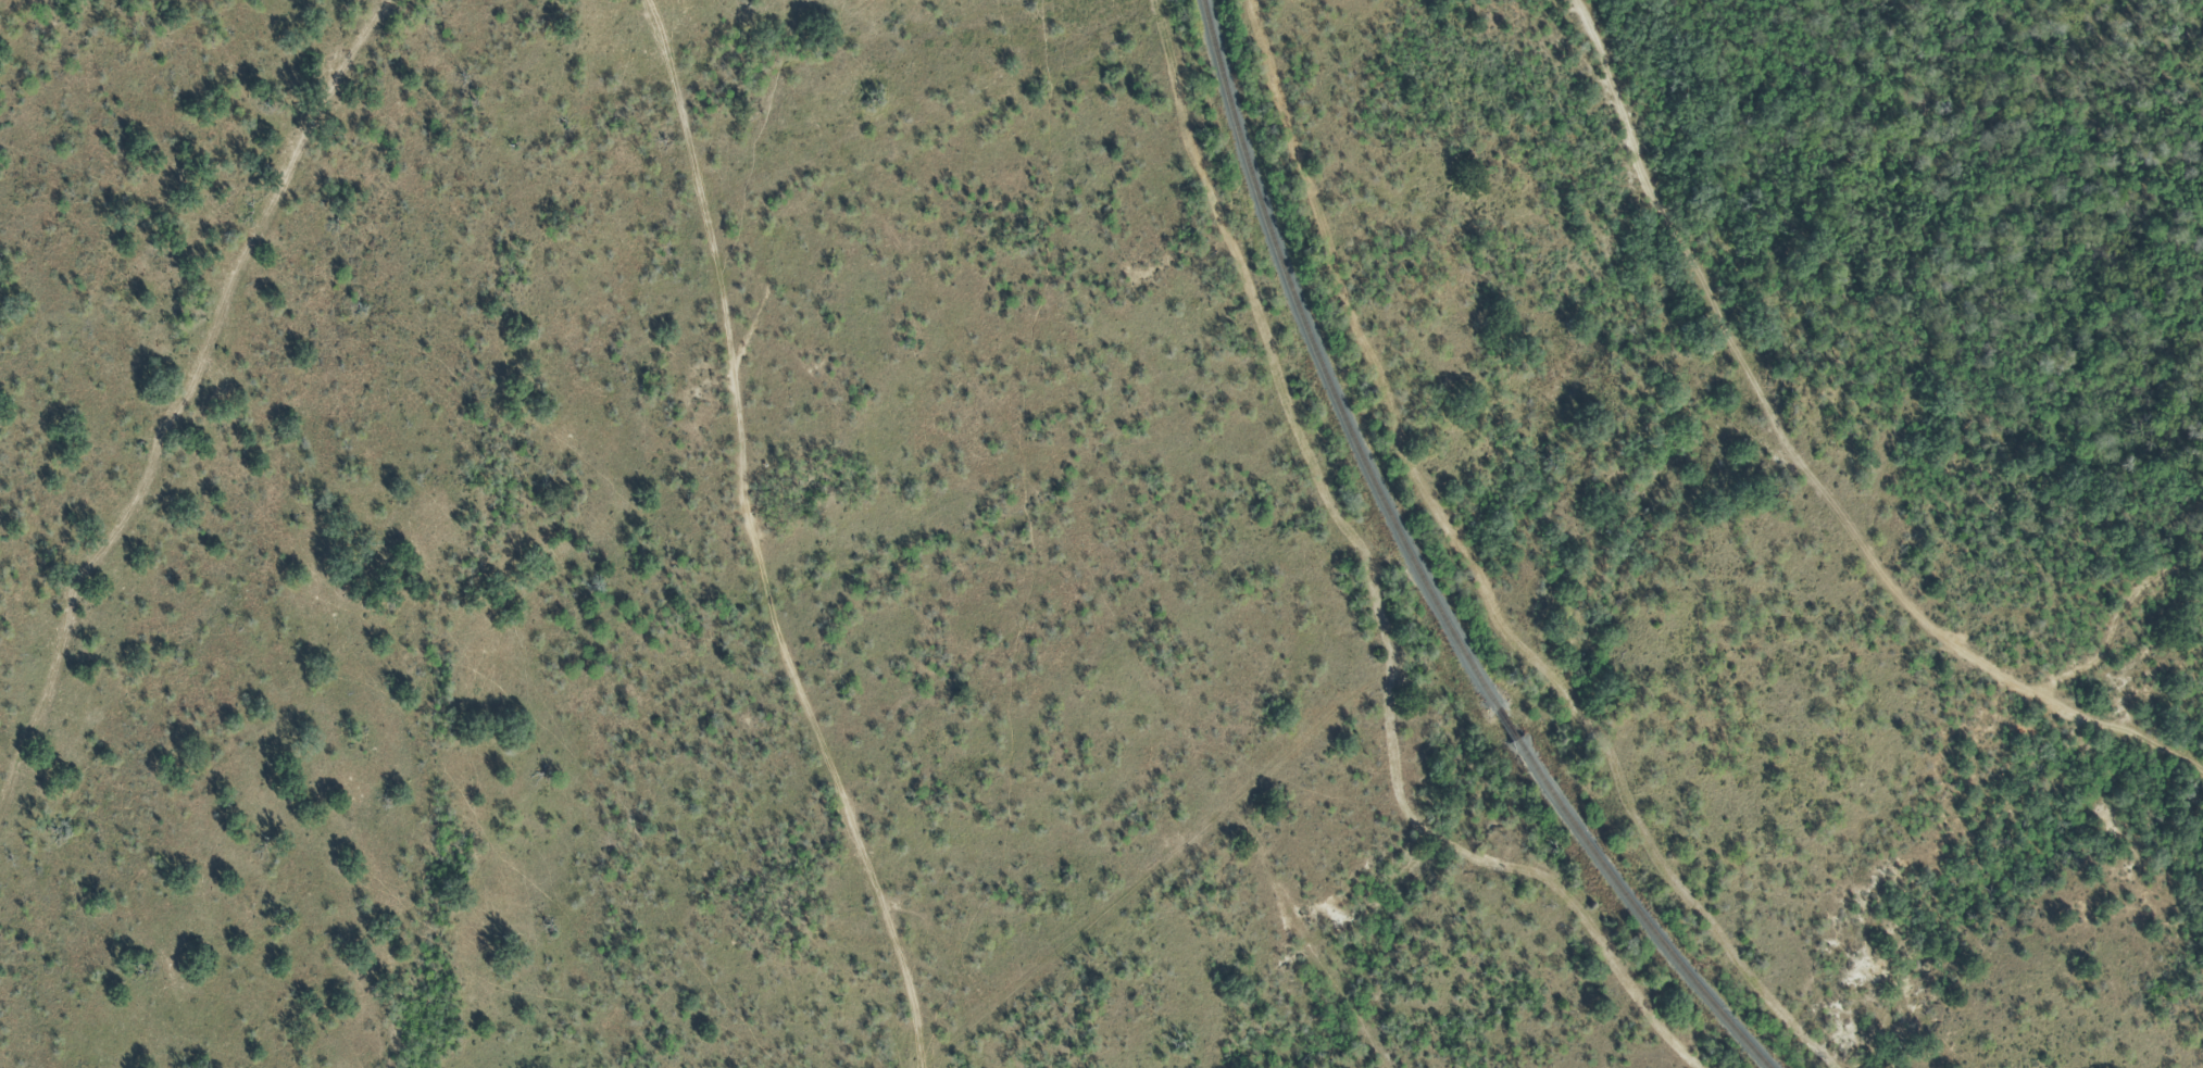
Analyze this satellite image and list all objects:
railway: (1415, 569)

